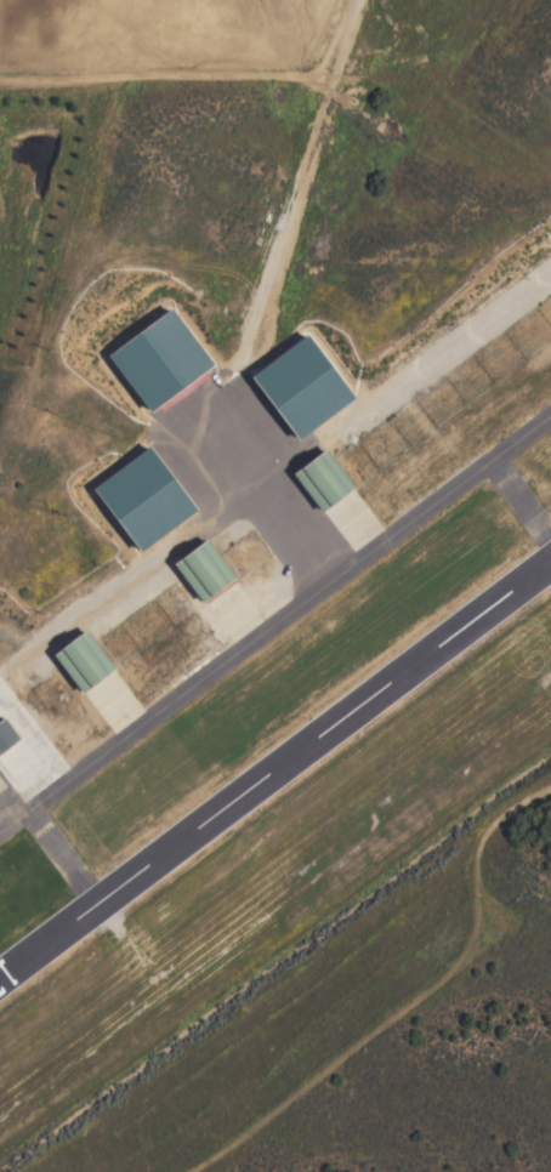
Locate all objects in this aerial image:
airport hangar: (155, 358)
building: (155, 358)
airport hangar: (297, 386)
building: (297, 386)
airport hangar: (322, 479)
building: (322, 479)
airport taxiway: (260, 489)
airport hangar: (140, 497)
building: (140, 497)
airport taxiway: (519, 505)
airport: (267, 533)
airport hangar: (201, 569)
building: (201, 569)
airport taxiway: (275, 620)
airport hangar: (83, 661)
building: (83, 661)
airport hangar: (6, 735)
building: (6, 735)
road: (44, 751)
airport runway: (274, 763)
airport taxiway: (56, 855)

